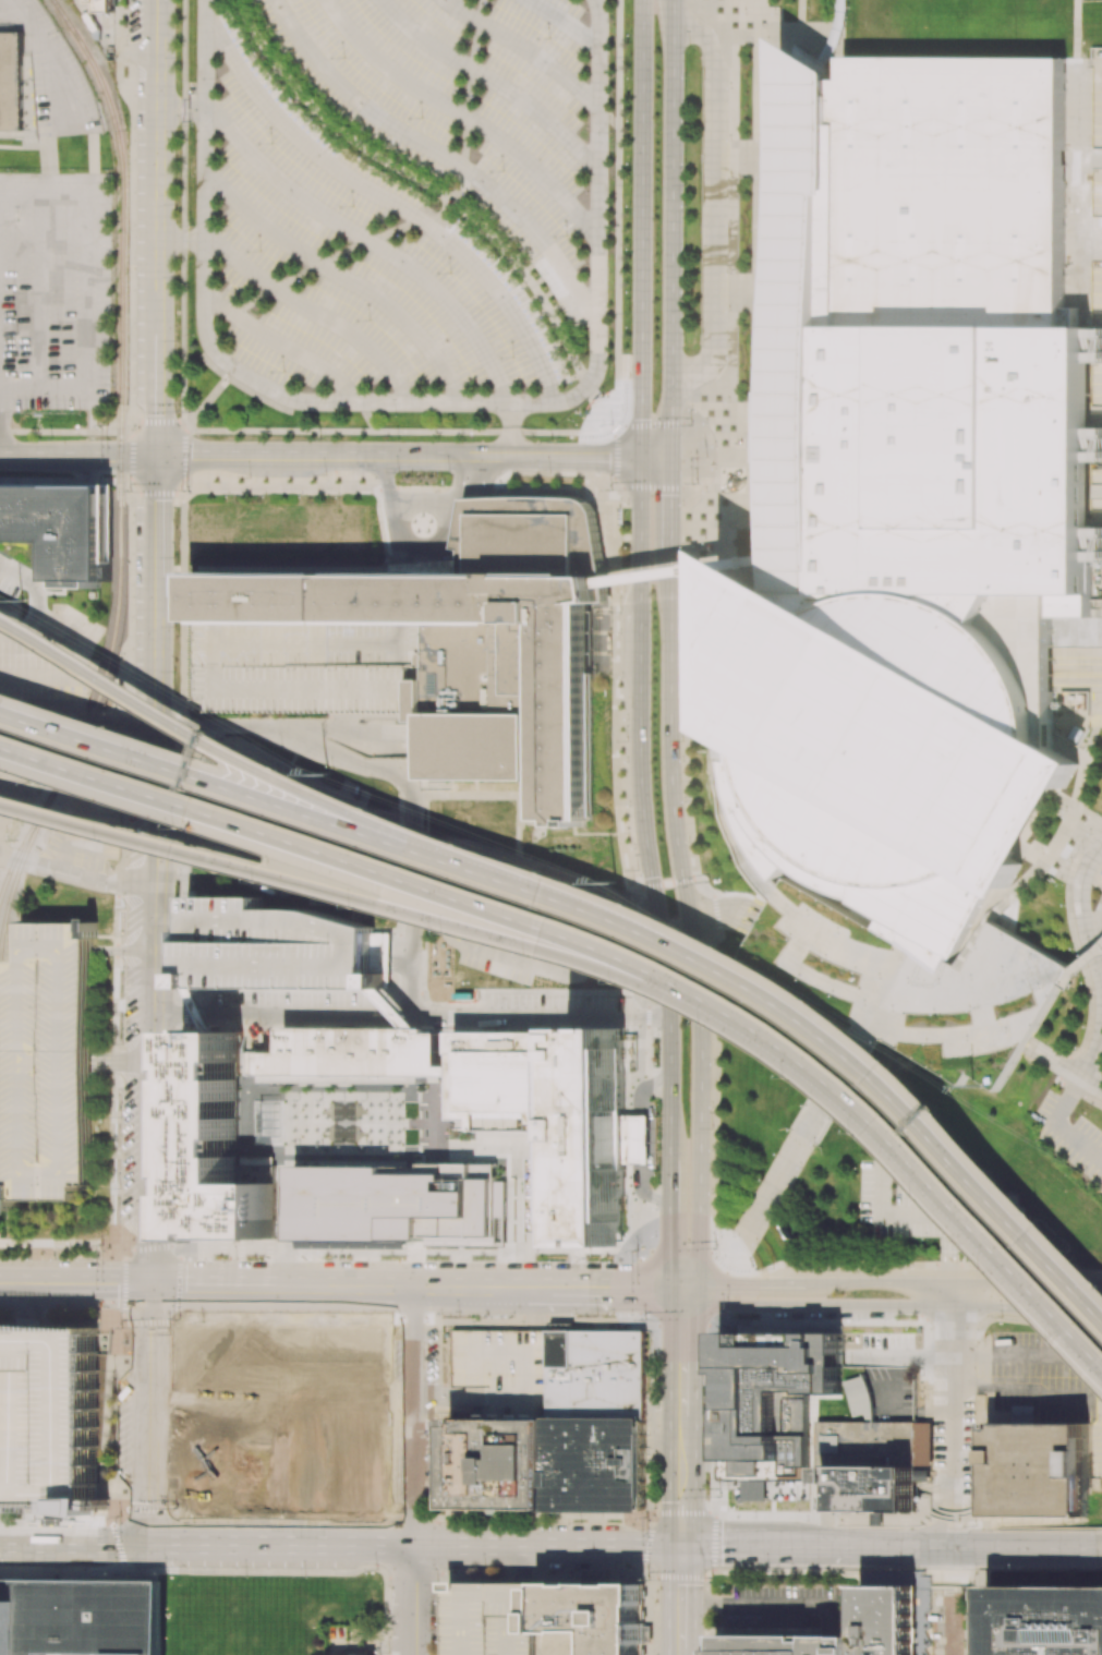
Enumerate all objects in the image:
building: (102, 4)
road: (161, 8)
road: (800, 10)
road: (565, 22)
road: (1078, 29)
building: (836, 32)
road: (838, 32)
road: (523, 48)
road: (491, 80)
building: (12, 81)
road: (182, 106)
road: (462, 114)
road: (438, 152)
road: (159, 162)
parking lot: (1095, 191)
parking lot: (403, 193)
road: (445, 196)
road: (391, 202)
road: (713, 202)
road: (617, 214)
road: (434, 215)
road: (671, 228)
road: (181, 239)
road: (370, 240)
road: (342, 276)
parking lot: (55, 290)
road: (84, 294)
road: (40, 295)
road: (315, 312)
building: (1070, 315)
road: (283, 346)
road: (159, 383)
railway: (119, 392)
road: (210, 397)
road: (413, 402)
traffic signals: (640, 420)
road: (1, 425)
road: (644, 425)
road: (189, 426)
road: (511, 430)
road: (617, 442)
road: (78, 455)
traffic signals: (158, 456)
road: (414, 456)
traffic signals: (608, 457)
building: (919, 493)
traffic signals: (671, 495)
road: (670, 507)
road: (158, 524)
building: (62, 529)
road: (692, 578)
road: (639, 580)
power tower: (21, 599)
building: (432, 649)
street lamp: (121, 677)
parking lot: (1081, 678)
road: (174, 694)
road: (295, 694)
road: (75, 717)
street lamp: (202, 726)
street lamp: (113, 727)
road: (716, 728)
stadium: (886, 753)
street lamp: (9, 768)
street lamp: (280, 769)
power tower: (324, 774)
street lamp: (372, 809)
road: (81, 812)
parking lot: (86, 823)
street lamp: (181, 825)
road: (97, 833)
railway: (23, 837)
street lamp: (105, 839)
street lamp: (464, 845)
road: (62, 857)
railway: (19, 860)
road: (156, 873)
street lamp: (548, 873)
road: (76, 875)
street lamp: (258, 881)
power tower: (616, 882)
road: (410, 903)
street lamp: (633, 904)
road: (398, 906)
street lamp: (356, 907)
road: (170, 914)
road: (1101, 915)
road: (1101, 917)
road: (1081, 919)
road: (1091, 919)
road: (170, 923)
road: (688, 925)
street lamp: (452, 933)
road: (379, 940)
road: (399, 940)
building: (271, 946)
parking garage: (271, 946)
street lamp: (725, 947)
road: (122, 950)
building: (379, 954)
street lamp: (535, 955)
road: (379, 963)
road: (399, 963)
road: (1082, 966)
road: (1100, 973)
street lamp: (621, 982)
street lamp: (810, 1001)
parking lot: (287, 1003)
parking lot: (550, 1005)
building: (395, 1007)
building: (204, 1008)
road: (179, 1014)
road: (206, 1014)
road: (302, 1014)
road: (402, 1015)
road: (538, 1016)
street lamp: (710, 1023)
road: (852, 1024)
building: (435, 1029)
road: (1019, 1046)
road: (1094, 1046)
building: (353, 1052)
road: (25, 1061)
road: (69, 1061)
road: (1053, 1061)
road: (36, 1062)
parking garage: (47, 1062)
road: (58, 1062)
road: (78, 1062)
road: (122, 1062)
building: (47, 1063)
street lamp: (791, 1077)
building: (2, 1078)
building: (338, 1078)
road: (1090, 1083)
power tower: (977, 1086)
street lamp: (941, 1112)
building: (556, 1119)
building: (814, 1119)
building: (269, 1123)
building: (461, 1125)
road: (1057, 1126)
flagpole: (449, 1131)
road: (794, 1132)
street lamp: (858, 1133)
flagpole: (450, 1136)
building: (637, 1138)
parking lot: (1070, 1138)
road: (640, 1141)
building: (217, 1146)
building: (537, 1148)
parking lot: (650, 1170)
street lamp: (921, 1197)
building: (2, 1204)
street lamp: (1041, 1218)
road: (153, 1220)
road: (669, 1224)
traffic signals: (669, 1242)
street lamp: (714, 1247)
street lamp: (637, 1251)
road: (675, 1251)
street lamp: (910, 1265)
street lamp: (773, 1268)
street lamp: (991, 1270)
road: (749, 1277)
traffic signals: (738, 1281)
road: (748, 1281)
road: (959, 1282)
road: (640, 1284)
road: (5, 1286)
road: (81, 1286)
traffic signals: (152, 1286)
road: (205, 1286)
road: (336, 1289)
road: (469, 1289)
road: (602, 1290)
traffic signals: (631, 1290)
road: (725, 1294)
road: (892, 1305)
road: (414, 1306)
street lamp: (458, 1315)
street lamp: (596, 1316)
street lamp: (1001, 1317)
street lamp: (643, 1318)
street lamp: (735, 1319)
road: (626, 1320)
road: (682, 1325)
road: (724, 1325)
traffic signals: (680, 1328)
street lamp: (1058, 1341)
road: (379, 1344)
road: (152, 1348)
road: (414, 1354)
parking lot: (429, 1354)
road: (680, 1354)
road: (972, 1354)
road: (1045, 1356)
building: (504, 1369)
parking garage: (504, 1369)
building: (595, 1375)
road: (953, 1392)
building: (889, 1393)
road: (413, 1398)
building: (860, 1398)
road: (396, 1400)
road: (476, 1400)
building: (772, 1400)
road: (1100, 1408)
parking lot: (288, 1411)
building: (45, 1415)
parking lot: (45, 1415)
road: (209, 1415)
road: (258, 1415)
road: (303, 1416)
road: (353, 1416)
chimney: (998, 1425)
building: (923, 1443)
road: (413, 1460)
building: (497, 1464)
building: (594, 1464)
building: (870, 1464)
building: (1038, 1470)
road: (377, 1472)
building: (922, 1475)
road: (152, 1476)
road: (680, 1483)
road: (934, 1489)
street lamp: (720, 1494)
chimney: (918, 1498)
traffic signals: (680, 1501)
building: (833, 1501)
building: (875, 1519)
road: (413, 1526)
road: (29, 1543)
road: (87, 1543)
road: (133, 1544)
traffic signals: (150, 1544)
road: (281, 1544)
road: (546, 1546)
traffic signals: (724, 1547)
road: (729, 1547)
road: (815, 1547)
road: (923, 1548)
road: (1036, 1548)
road: (1089, 1548)
street lamp: (1020, 1569)
street lamp: (649, 1579)
traffic signals: (680, 1584)
road: (412, 1599)
road: (680, 1599)
road: (751, 1606)
building: (899, 1612)
building: (82, 1616)
building: (495, 1619)
parking lot: (495, 1619)
building: (591, 1619)
building: (1044, 1620)
parking lot: (950, 1621)
road: (826, 1622)
road: (953, 1629)
road: (828, 1645)
road: (681, 1653)
building: (202, 1654)

